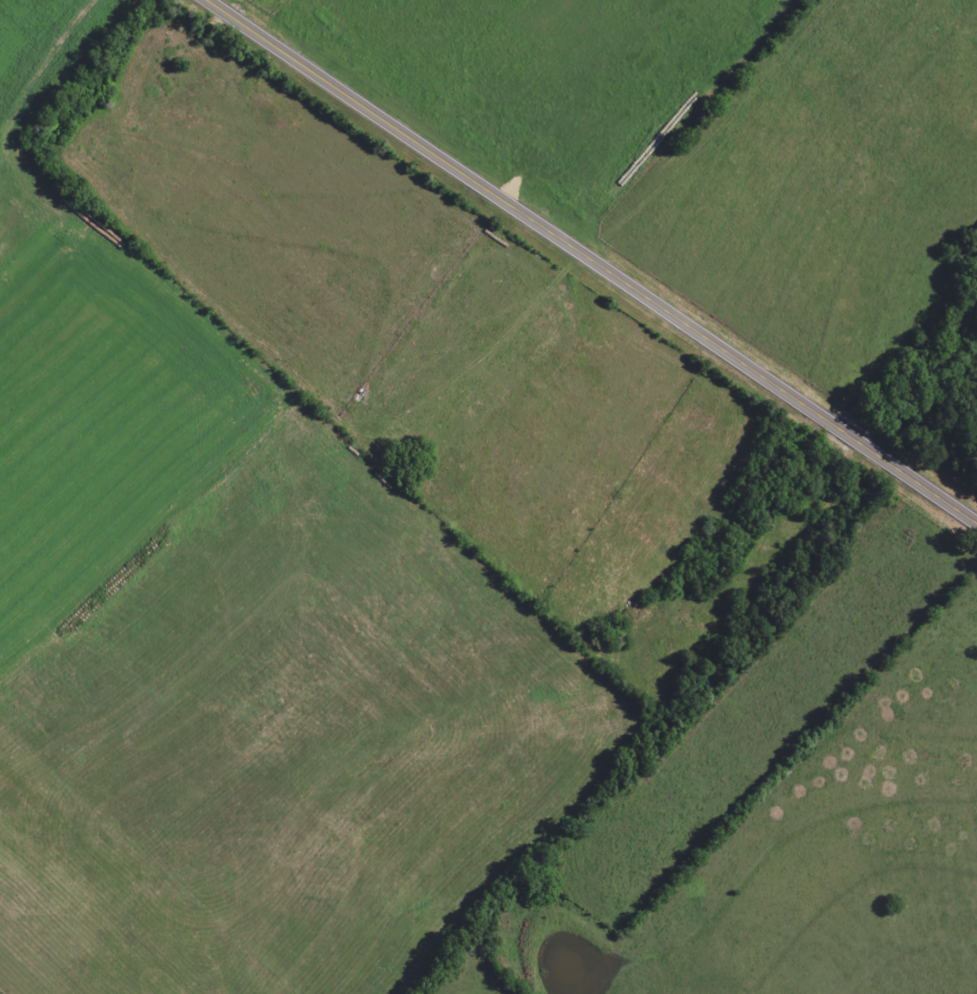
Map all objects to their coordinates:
road: (597, 258)

